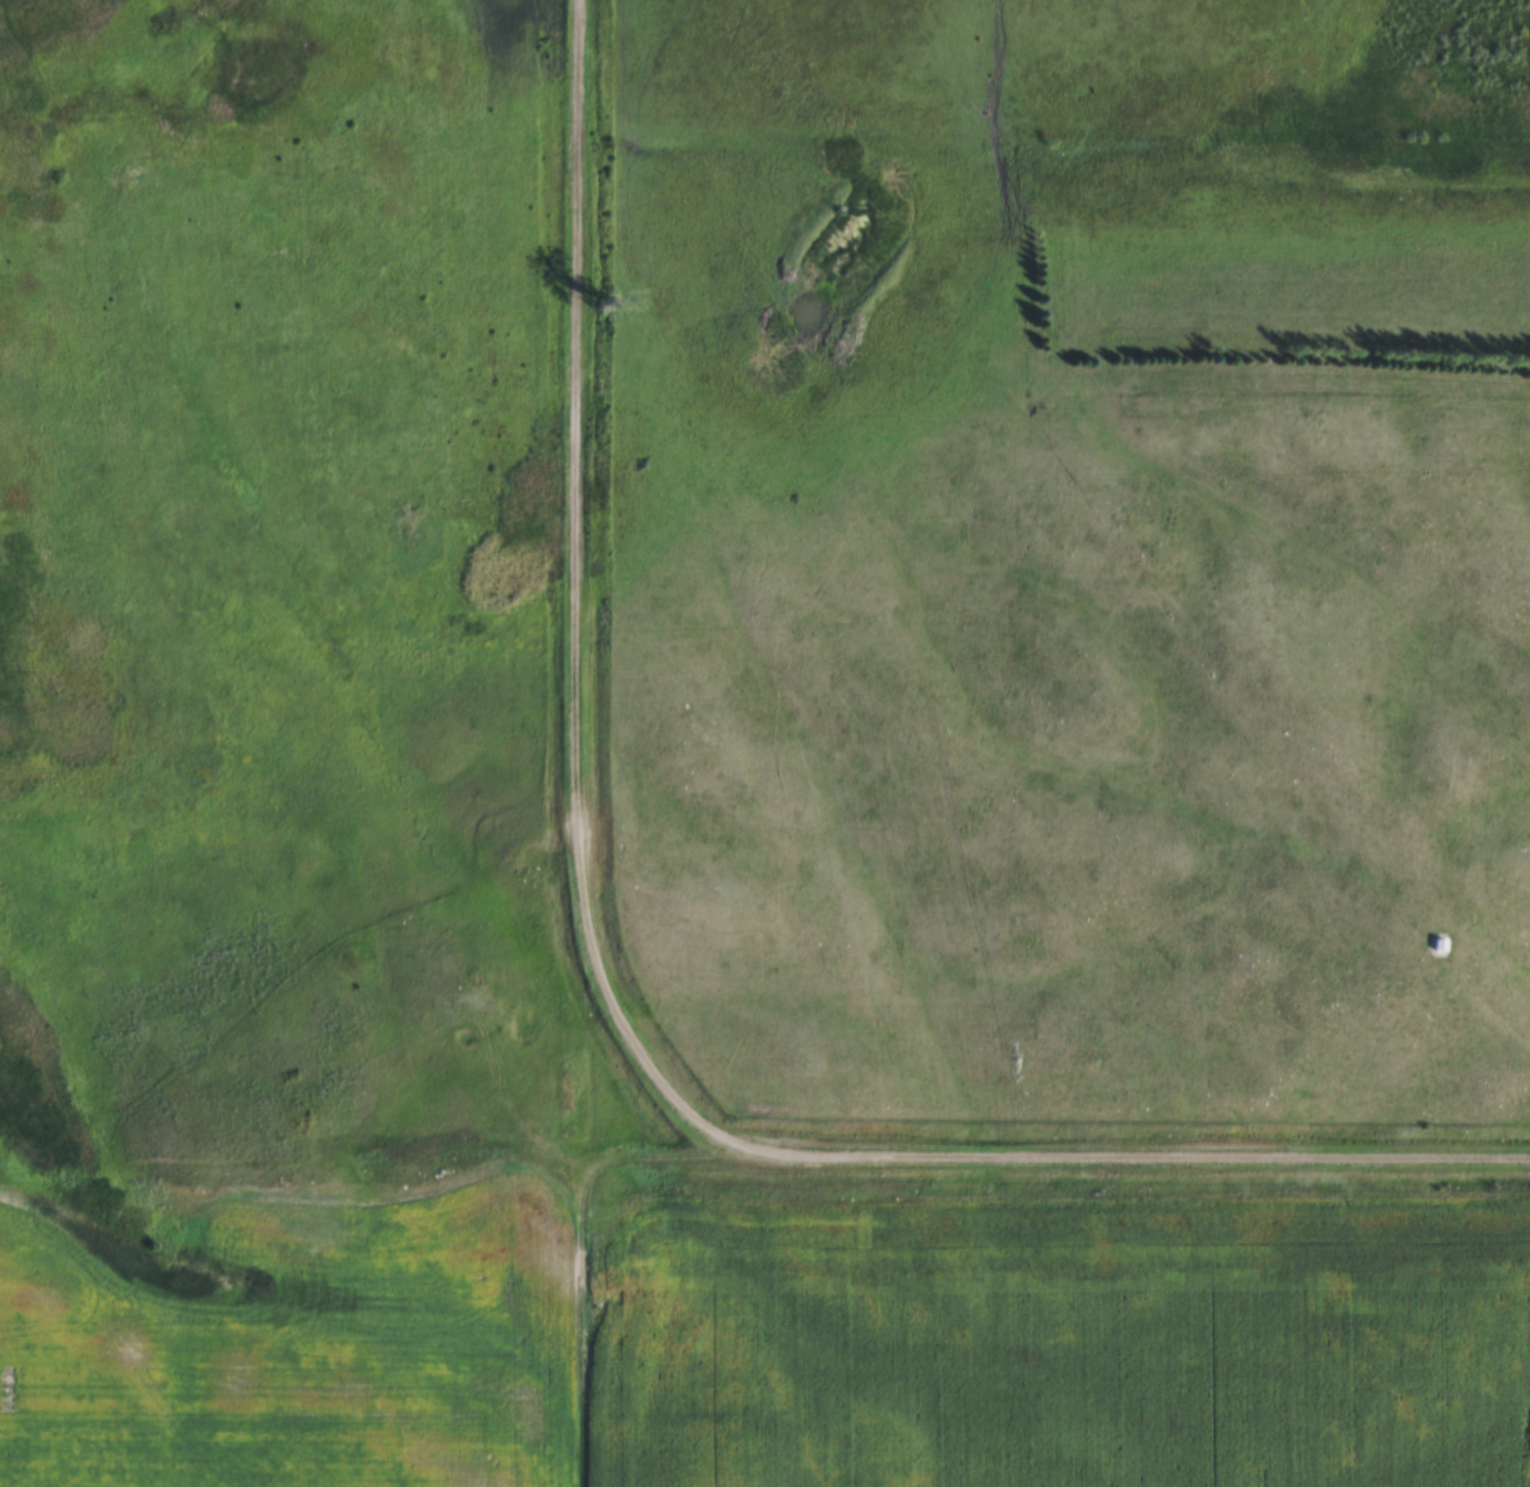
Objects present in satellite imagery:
road: (576, 603)
building: (1442, 947)
road: (1137, 1150)
road: (582, 1245)

